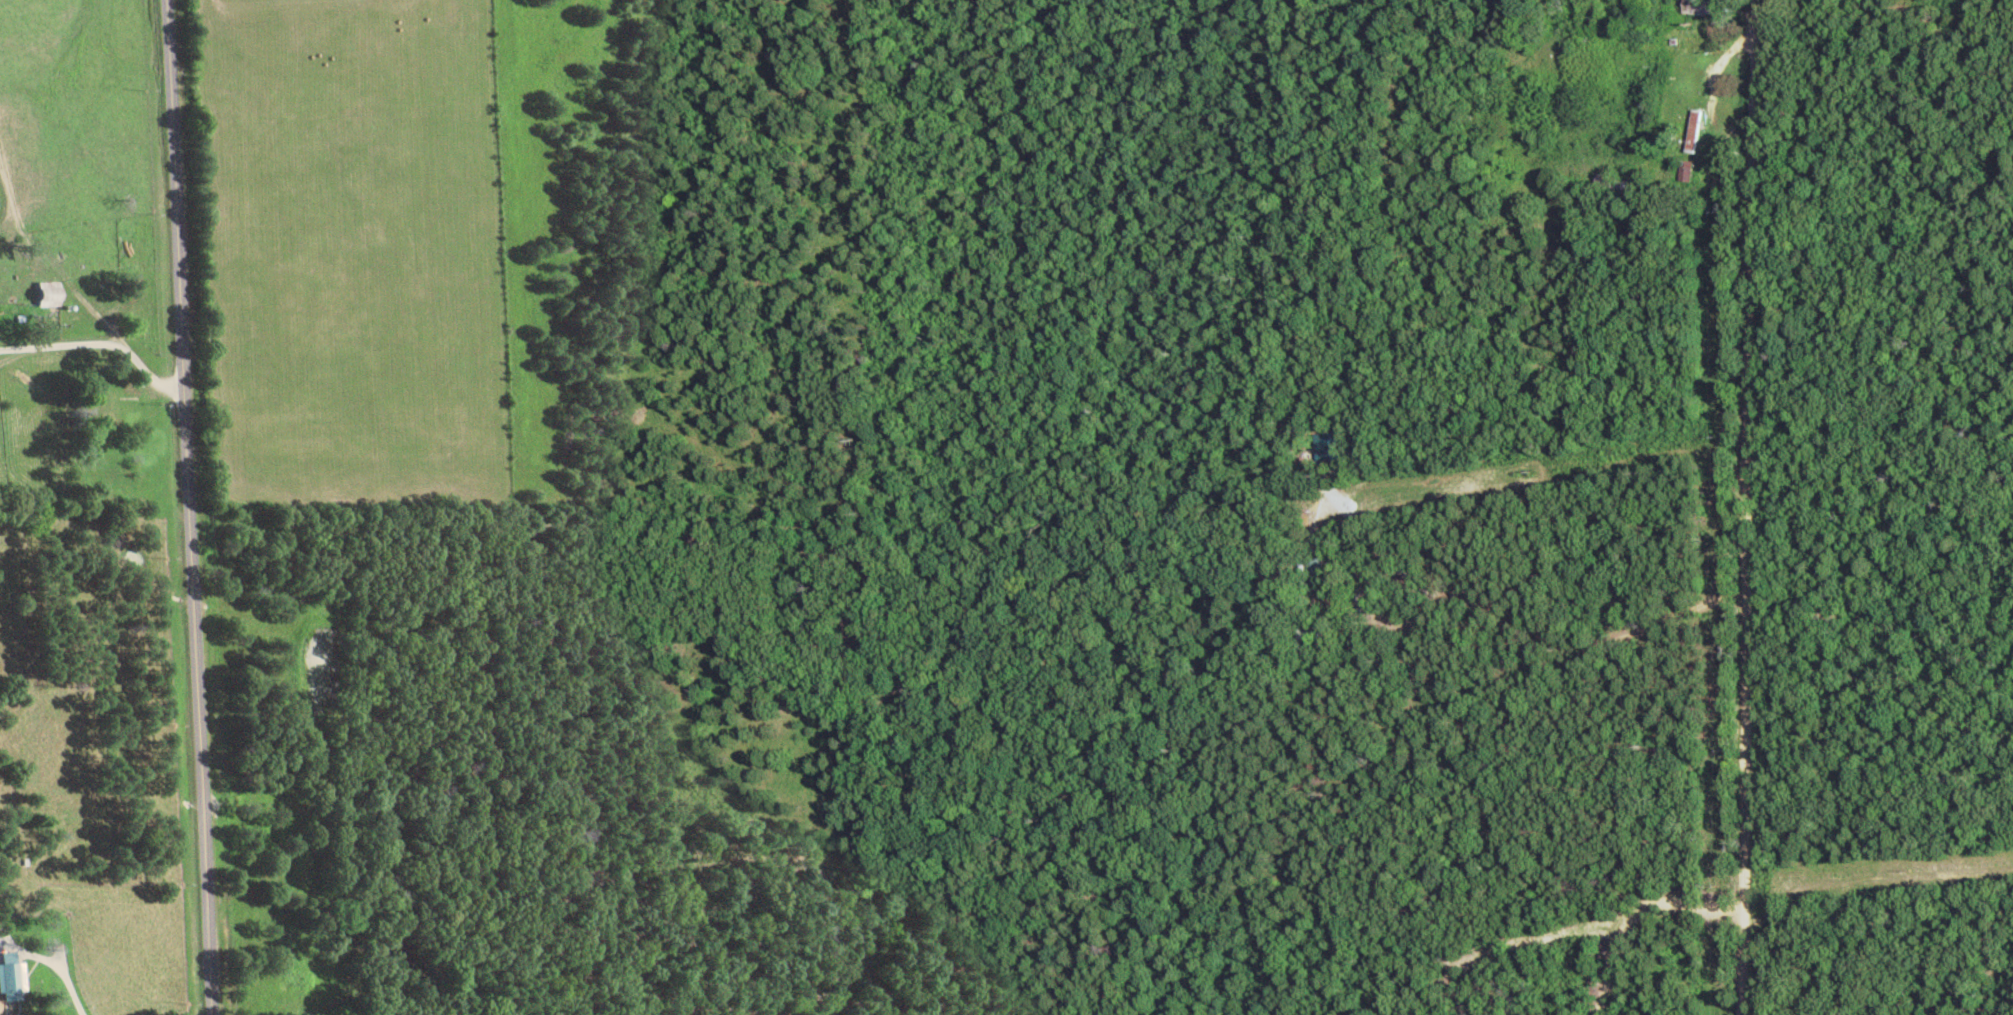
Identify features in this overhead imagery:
building: (1689, 9)
building: (1688, 135)
building: (1607, 187)
building: (42, 298)
road: (198, 507)
road: (1746, 507)
building: (1304, 574)
building: (9, 984)

